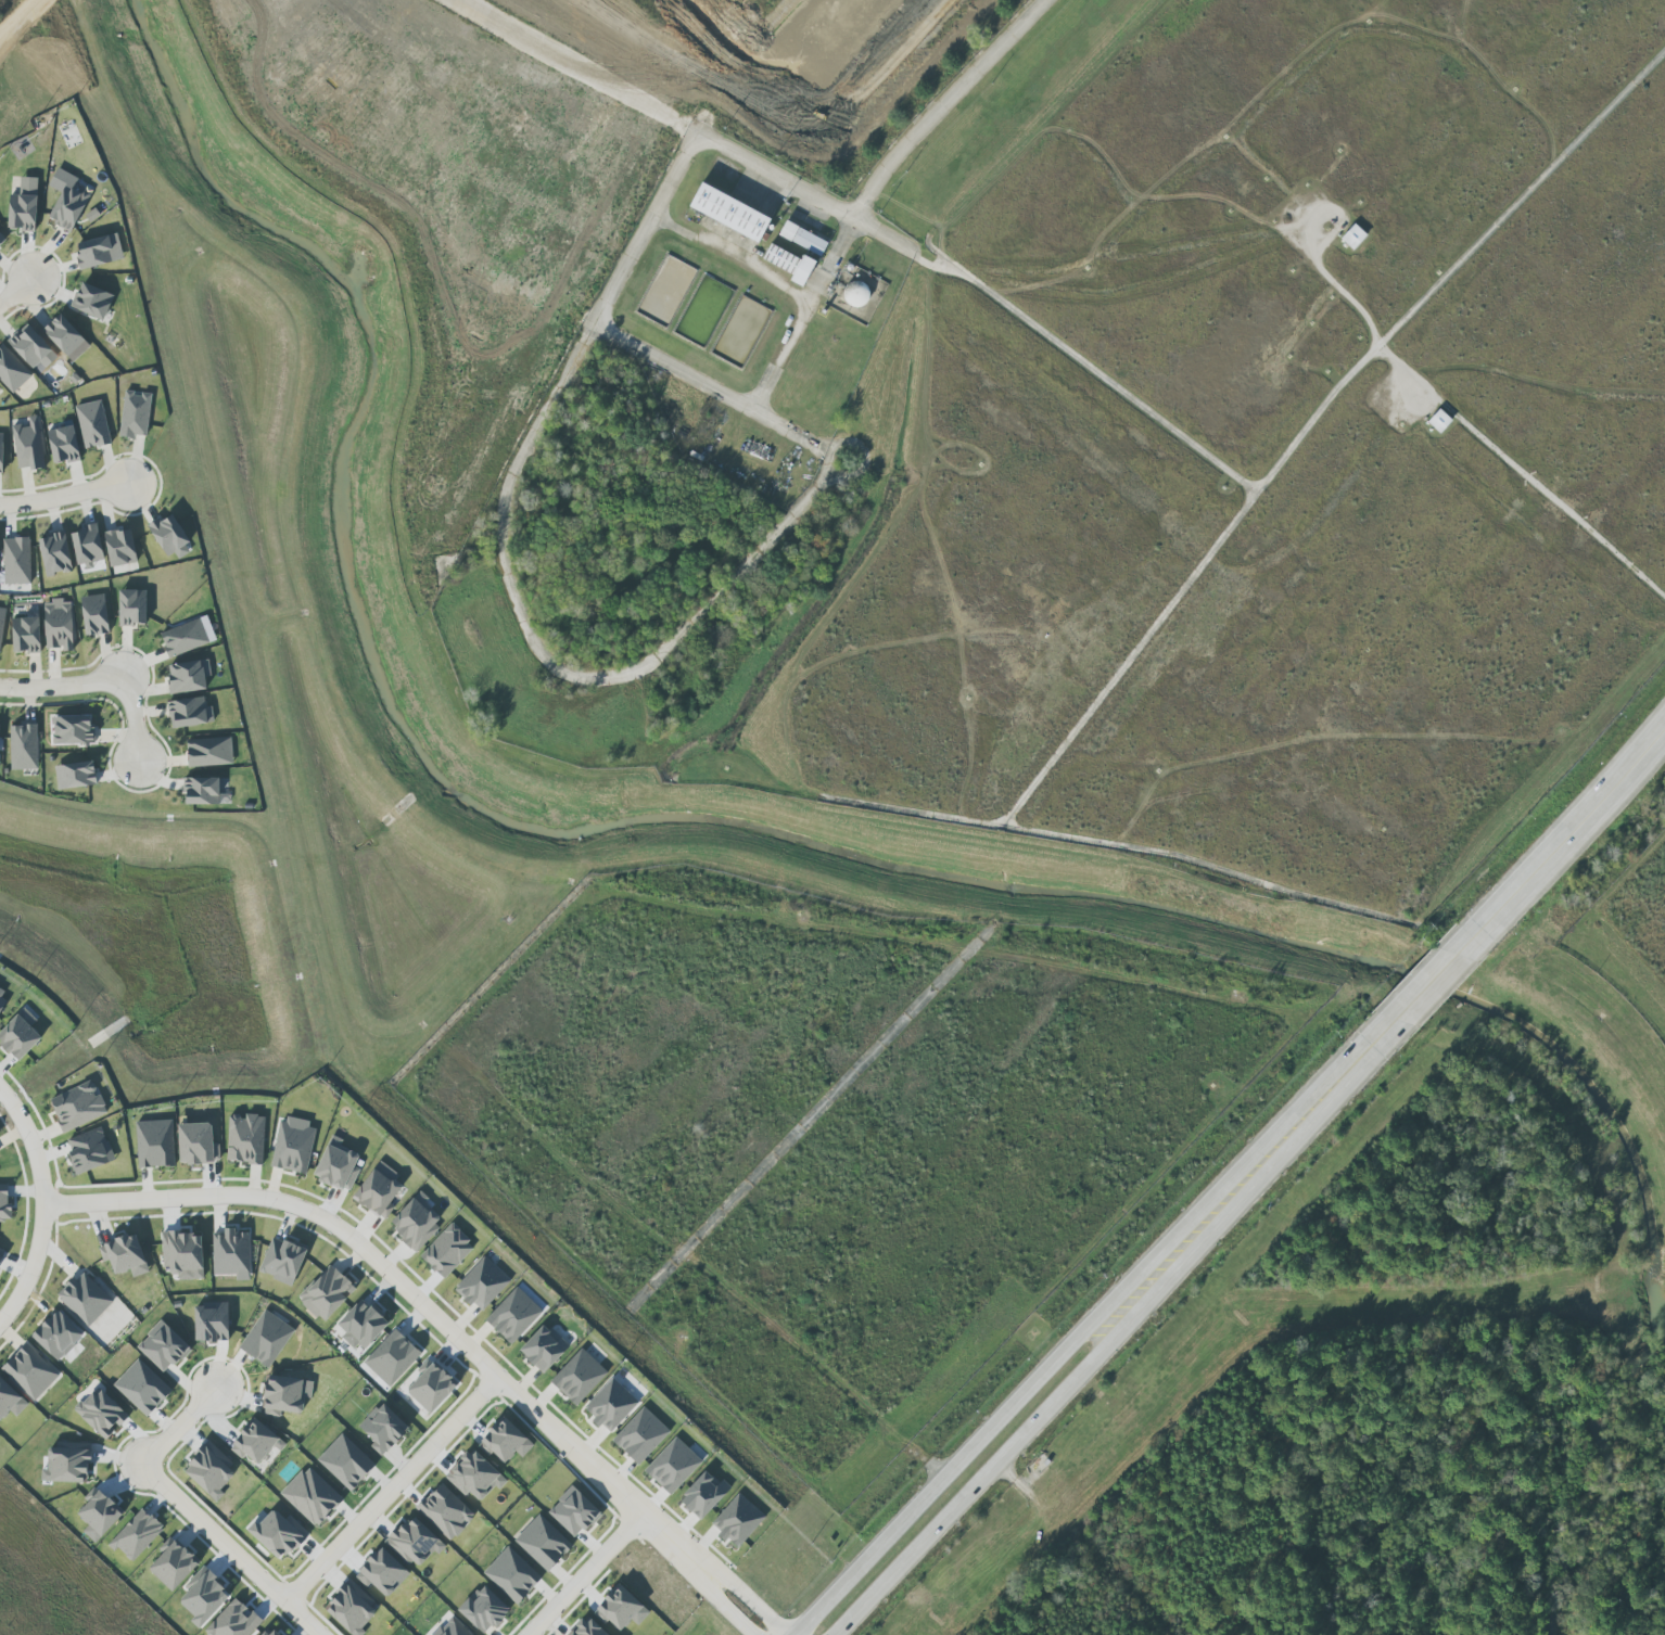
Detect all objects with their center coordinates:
road: (20, 17)
road: (579, 72)
road: (944, 105)
building: (23, 206)
building: (68, 207)
building: (729, 213)
road: (648, 231)
building: (1353, 237)
building: (1, 239)
building: (802, 239)
building: (99, 251)
road: (734, 259)
building: (789, 264)
road: (1340, 289)
road: (17, 292)
building: (856, 294)
road: (992, 295)
building: (91, 302)
road: (803, 315)
building: (66, 337)
building: (31, 347)
building: (12, 370)
road: (717, 393)
building: (136, 414)
road: (1318, 414)
building: (92, 424)
building: (28, 445)
building: (63, 445)
building: (1, 451)
road: (63, 499)
road: (498, 533)
building: (170, 537)
building: (87, 546)
building: (120, 548)
building: (55, 553)
building: (16, 561)
road: (740, 571)
building: (132, 608)
building: (94, 615)
building: (1, 621)
building: (59, 625)
building: (25, 635)
building: (188, 637)
building: (186, 677)
road: (62, 688)
building: (189, 713)
road: (132, 720)
building: (71, 730)
building: (23, 748)
building: (209, 752)
building: (75, 776)
building: (201, 791)
building: (2, 997)
building: (18, 1037)
building: (78, 1106)
building: (245, 1139)
building: (155, 1144)
building: (196, 1144)
building: (293, 1146)
road: (31, 1148)
building: (89, 1150)
building: (338, 1165)
road: (1230, 1174)
road: (1251, 1186)
building: (378, 1193)
building: (4, 1203)
building: (416, 1222)
building: (449, 1249)
building: (183, 1254)
building: (232, 1254)
building: (125, 1255)
building: (282, 1261)
building: (482, 1285)
road: (398, 1288)
building: (327, 1293)
building: (85, 1299)
building: (513, 1315)
building: (211, 1323)
building: (360, 1327)
building: (56, 1336)
building: (266, 1339)
building: (163, 1346)
building: (543, 1349)
building: (392, 1358)
building: (29, 1371)
building: (579, 1377)
building: (431, 1387)
building: (142, 1388)
building: (285, 1395)
building: (10, 1401)
building: (610, 1405)
building: (101, 1414)
building: (383, 1429)
building: (640, 1435)
building: (505, 1441)
building: (254, 1442)
building: (345, 1462)
building: (66, 1466)
building: (673, 1466)
building: (208, 1472)
building: (474, 1476)
road: (387, 1495)
building: (703, 1495)
building: (312, 1496)
building: (445, 1511)
building: (573, 1511)
road: (186, 1513)
building: (99, 1515)
building: (737, 1520)
building: (136, 1535)
building: (415, 1543)
building: (543, 1543)
building: (173, 1566)
building: (382, 1572)
building: (511, 1575)
road: (585, 1576)
building: (203, 1597)
building: (484, 1609)
building: (621, 1609)
building: (349, 1610)
building: (233, 1622)
building: (452, 1628)
building: (586, 1628)
building: (268, 1632)

